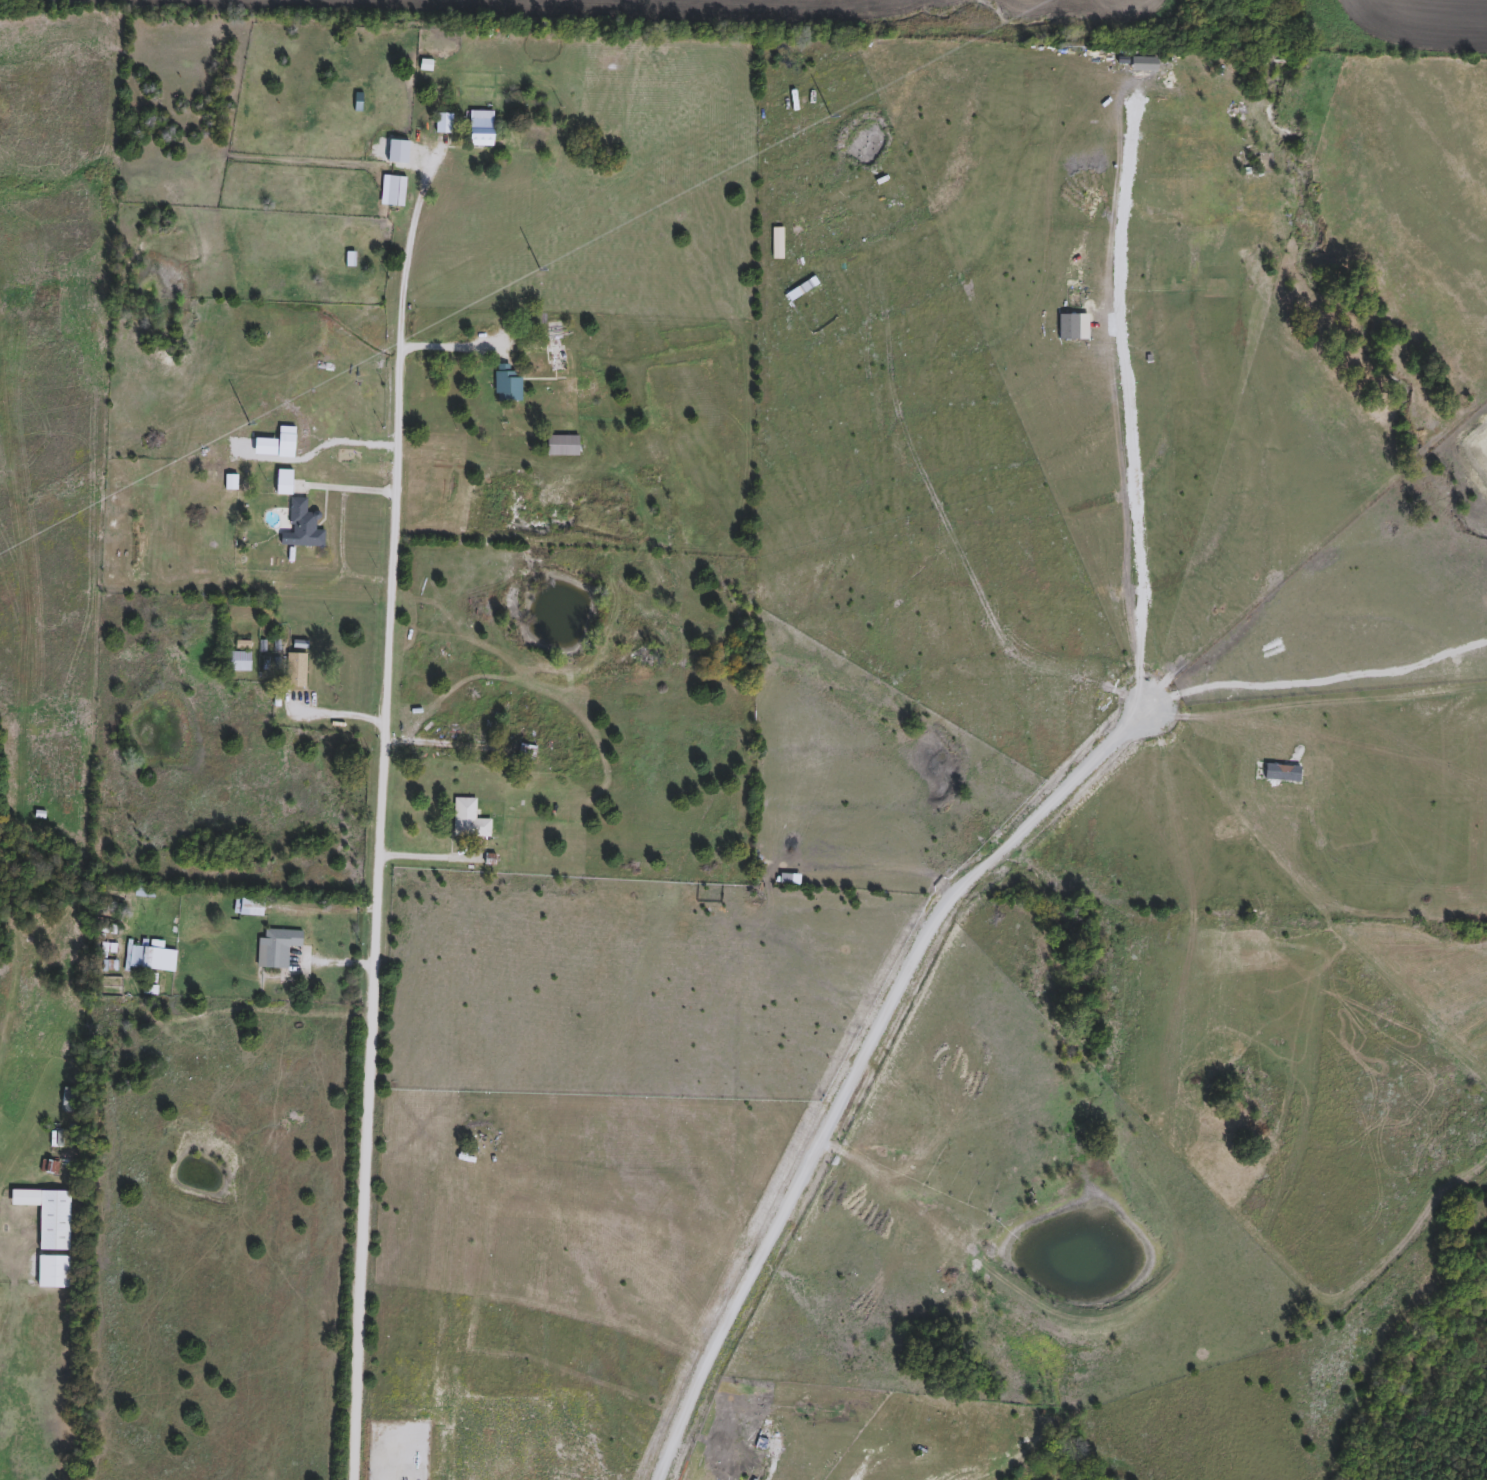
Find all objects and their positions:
power tower: (825, 100)
building: (443, 123)
building: (482, 132)
building: (396, 191)
road: (419, 196)
power tower: (529, 259)
building: (553, 331)
road: (450, 345)
building: (507, 383)
power tower: (243, 406)
building: (563, 445)
building: (302, 526)
building: (238, 661)
building: (296, 671)
road: (331, 714)
building: (526, 752)
building: (469, 820)
road: (433, 856)
road: (376, 859)
building: (249, 906)
building: (276, 947)
building: (150, 957)
road: (855, 1059)
building: (69, 1100)
building: (54, 1220)
building: (53, 1272)

